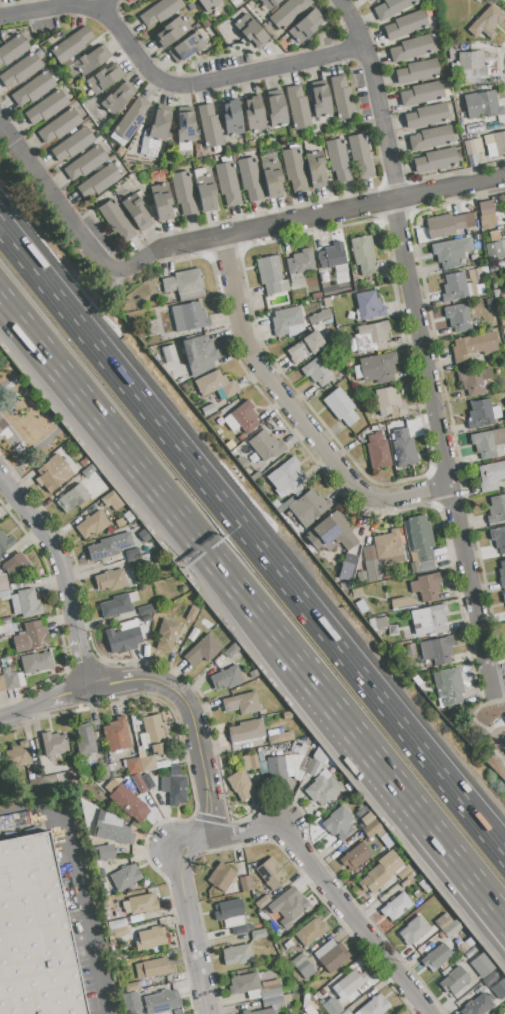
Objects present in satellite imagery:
building: (369, 0)
building: (371, 0)
building: (478, 1)
building: (268, 3)
building: (208, 4)
road: (107, 5)
building: (190, 6)
building: (391, 7)
road: (52, 9)
building: (159, 11)
building: (288, 12)
building: (486, 22)
building: (406, 24)
building: (305, 26)
building: (172, 31)
building: (252, 31)
road: (357, 31)
building: (71, 45)
building: (187, 46)
building: (412, 48)
building: (12, 49)
building: (89, 61)
building: (471, 66)
building: (20, 70)
building: (418, 70)
building: (103, 78)
road: (218, 79)
building: (33, 89)
road: (376, 91)
building: (423, 93)
building: (342, 97)
building: (116, 99)
building: (320, 99)
building: (482, 104)
building: (46, 107)
building: (298, 107)
building: (460, 108)
building: (276, 110)
building: (254, 114)
building: (427, 115)
building: (132, 118)
building: (231, 118)
building: (160, 122)
building: (59, 125)
building: (185, 125)
building: (209, 126)
building: (469, 128)
building: (431, 137)
building: (488, 139)
building: (499, 142)
building: (72, 144)
building: (477, 144)
building: (149, 147)
building: (469, 147)
building: (491, 150)
building: (360, 155)
road: (390, 158)
building: (338, 160)
building: (436, 160)
building: (85, 162)
building: (293, 168)
building: (316, 168)
building: (249, 178)
building: (272, 178)
building: (99, 181)
building: (228, 183)
building: (205, 190)
building: (183, 192)
building: (161, 201)
road: (58, 204)
building: (486, 208)
building: (136, 212)
road: (305, 219)
building: (116, 220)
building: (469, 220)
building: (459, 222)
building: (440, 226)
building: (421, 234)
building: (477, 237)
building: (494, 251)
building: (447, 253)
building: (362, 256)
building: (333, 258)
building: (299, 265)
building: (492, 268)
building: (268, 270)
building: (474, 274)
building: (184, 284)
building: (283, 285)
building: (457, 287)
building: (271, 288)
building: (316, 295)
building: (369, 305)
building: (188, 316)
building: (458, 317)
building: (287, 321)
building: (371, 337)
building: (306, 347)
building: (473, 347)
building: (200, 354)
building: (378, 369)
building: (317, 371)
building: (473, 379)
building: (211, 382)
building: (229, 389)
building: (389, 403)
building: (341, 407)
building: (208, 409)
road: (295, 413)
building: (483, 413)
building: (245, 417)
building: (389, 426)
building: (489, 444)
building: (266, 446)
building: (403, 448)
road: (444, 448)
building: (378, 452)
building: (88, 471)
building: (291, 474)
building: (49, 475)
building: (490, 476)
road: (152, 482)
building: (73, 498)
building: (111, 499)
building: (308, 507)
building: (496, 510)
building: (92, 524)
building: (332, 532)
building: (419, 539)
building: (498, 539)
road: (250, 541)
building: (5, 543)
road: (56, 549)
building: (103, 549)
building: (383, 553)
building: (132, 554)
building: (134, 562)
building: (14, 563)
building: (425, 566)
building: (414, 567)
building: (346, 570)
building: (502, 572)
building: (110, 580)
building: (426, 586)
building: (3, 588)
building: (356, 592)
building: (503, 597)
building: (26, 603)
building: (118, 604)
building: (401, 604)
building: (362, 606)
building: (146, 610)
building: (192, 614)
building: (148, 618)
building: (429, 620)
building: (381, 623)
building: (167, 635)
building: (31, 637)
building: (127, 639)
building: (202, 650)
building: (231, 650)
building: (437, 650)
building: (36, 662)
road: (84, 663)
building: (225, 677)
building: (10, 679)
building: (2, 684)
road: (113, 685)
building: (448, 687)
road: (68, 692)
building: (242, 703)
road: (24, 708)
building: (287, 715)
building: (134, 720)
building: (247, 730)
building: (116, 735)
building: (154, 735)
building: (275, 738)
building: (84, 740)
road: (198, 740)
building: (52, 743)
building: (300, 748)
building: (18, 754)
building: (319, 755)
building: (146, 762)
building: (250, 762)
building: (1, 764)
building: (304, 764)
building: (133, 765)
building: (261, 767)
building: (312, 767)
building: (276, 768)
building: (299, 775)
building: (72, 779)
building: (63, 780)
building: (148, 781)
building: (50, 783)
building: (139, 784)
building: (240, 785)
building: (37, 786)
building: (322, 787)
building: (177, 790)
building: (129, 803)
road: (405, 809)
building: (367, 819)
building: (339, 823)
building: (371, 828)
building: (113, 832)
building: (385, 837)
building: (106, 852)
building: (356, 856)
building: (404, 872)
building: (270, 873)
building: (125, 876)
building: (221, 876)
building: (372, 879)
building: (245, 883)
building: (404, 883)
road: (83, 884)
road: (331, 892)
building: (262, 901)
building: (106, 902)
building: (143, 903)
building: (395, 906)
building: (288, 907)
building: (228, 909)
road: (188, 912)
parking lot: (49, 916)
building: (443, 921)
building: (116, 924)
building: (451, 928)
building: (239, 929)
building: (414, 930)
building: (120, 931)
building: (311, 932)
building: (34, 934)
building: (259, 934)
building: (151, 938)
building: (462, 948)
building: (237, 955)
building: (331, 955)
building: (437, 957)
building: (298, 959)
building: (482, 965)
building: (152, 969)
building: (305, 969)
building: (490, 979)
building: (454, 980)
building: (244, 984)
building: (348, 984)
building: (130, 986)
building: (270, 989)
building: (499, 989)
building: (287, 998)
building: (272, 1001)
building: (130, 1002)
building: (162, 1002)
building: (478, 1005)
building: (375, 1006)
building: (332, 1007)
building: (265, 1011)
building: (345, 1012)
building: (504, 1013)

